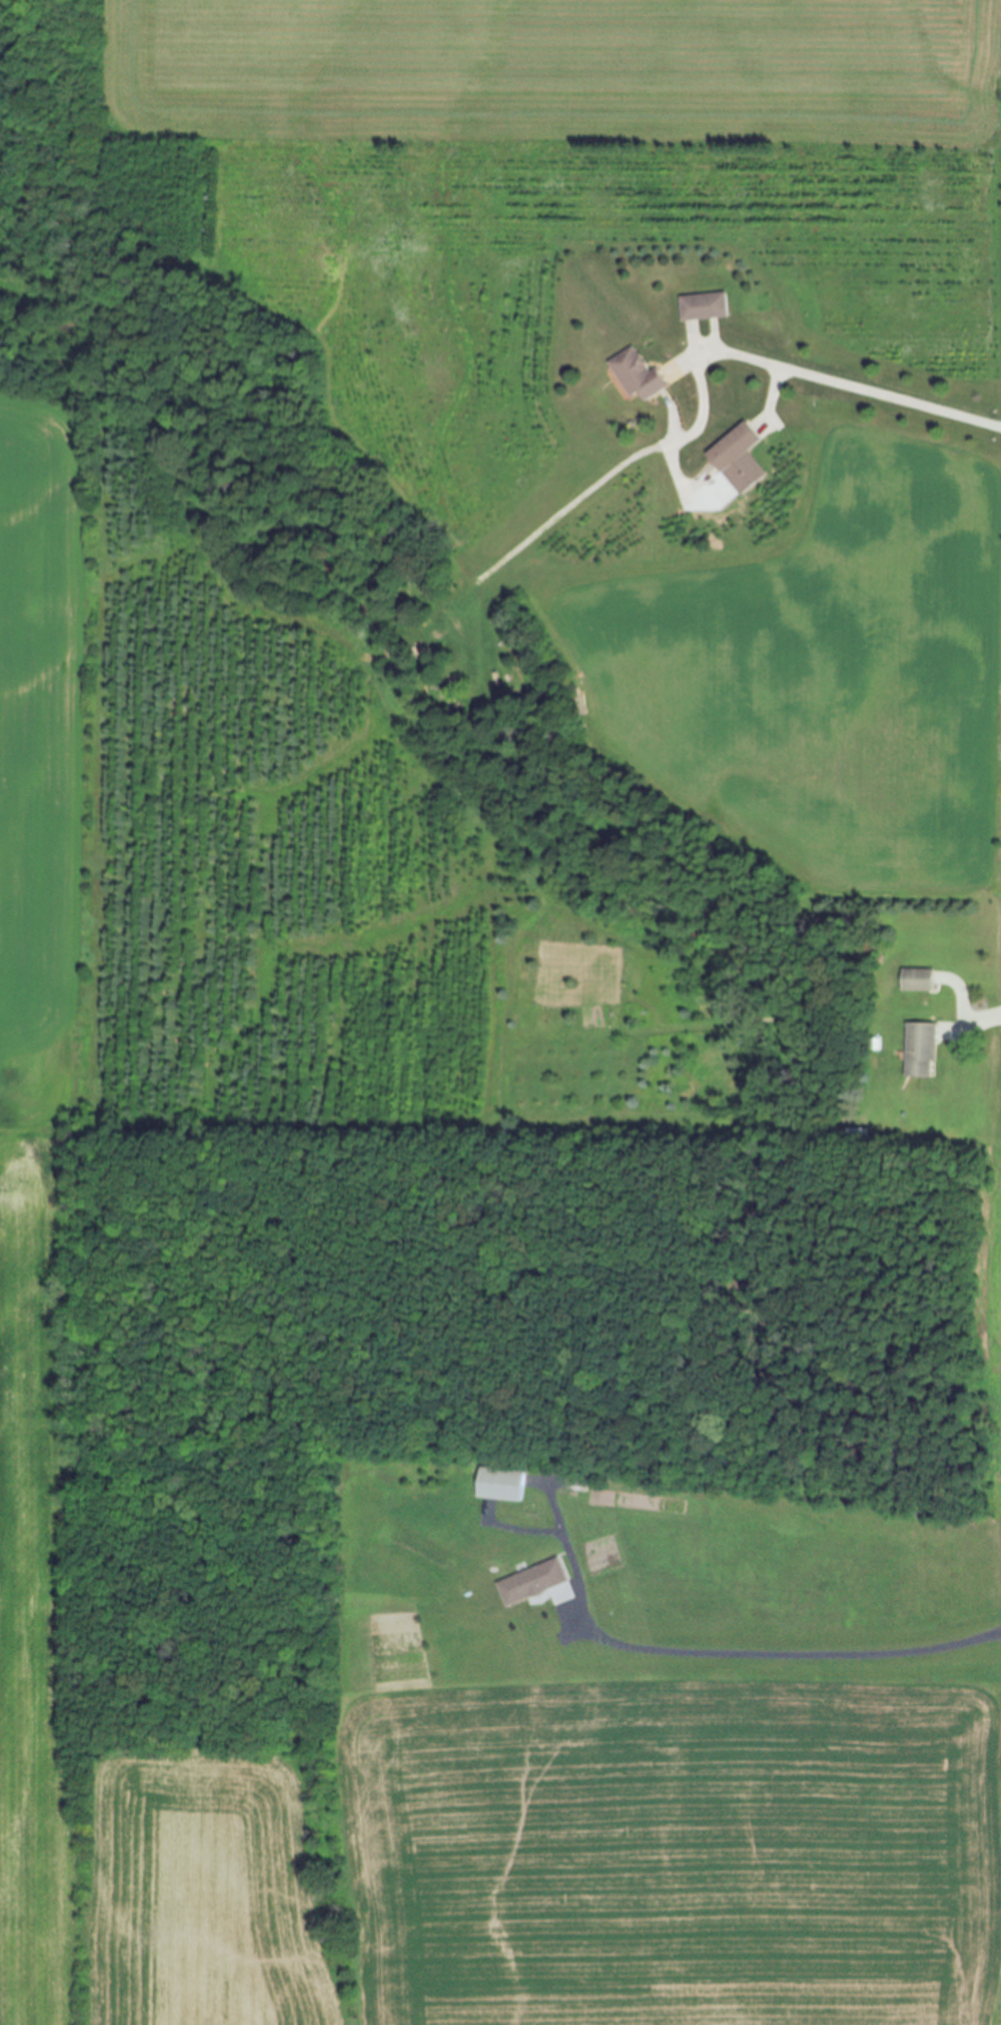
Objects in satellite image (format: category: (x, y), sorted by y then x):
building: (700, 308)
road: (774, 368)
building: (634, 375)
building: (729, 448)
building: (916, 981)
road: (983, 1019)
building: (921, 1051)
building: (498, 1485)
building: (531, 1584)
road: (720, 1656)

